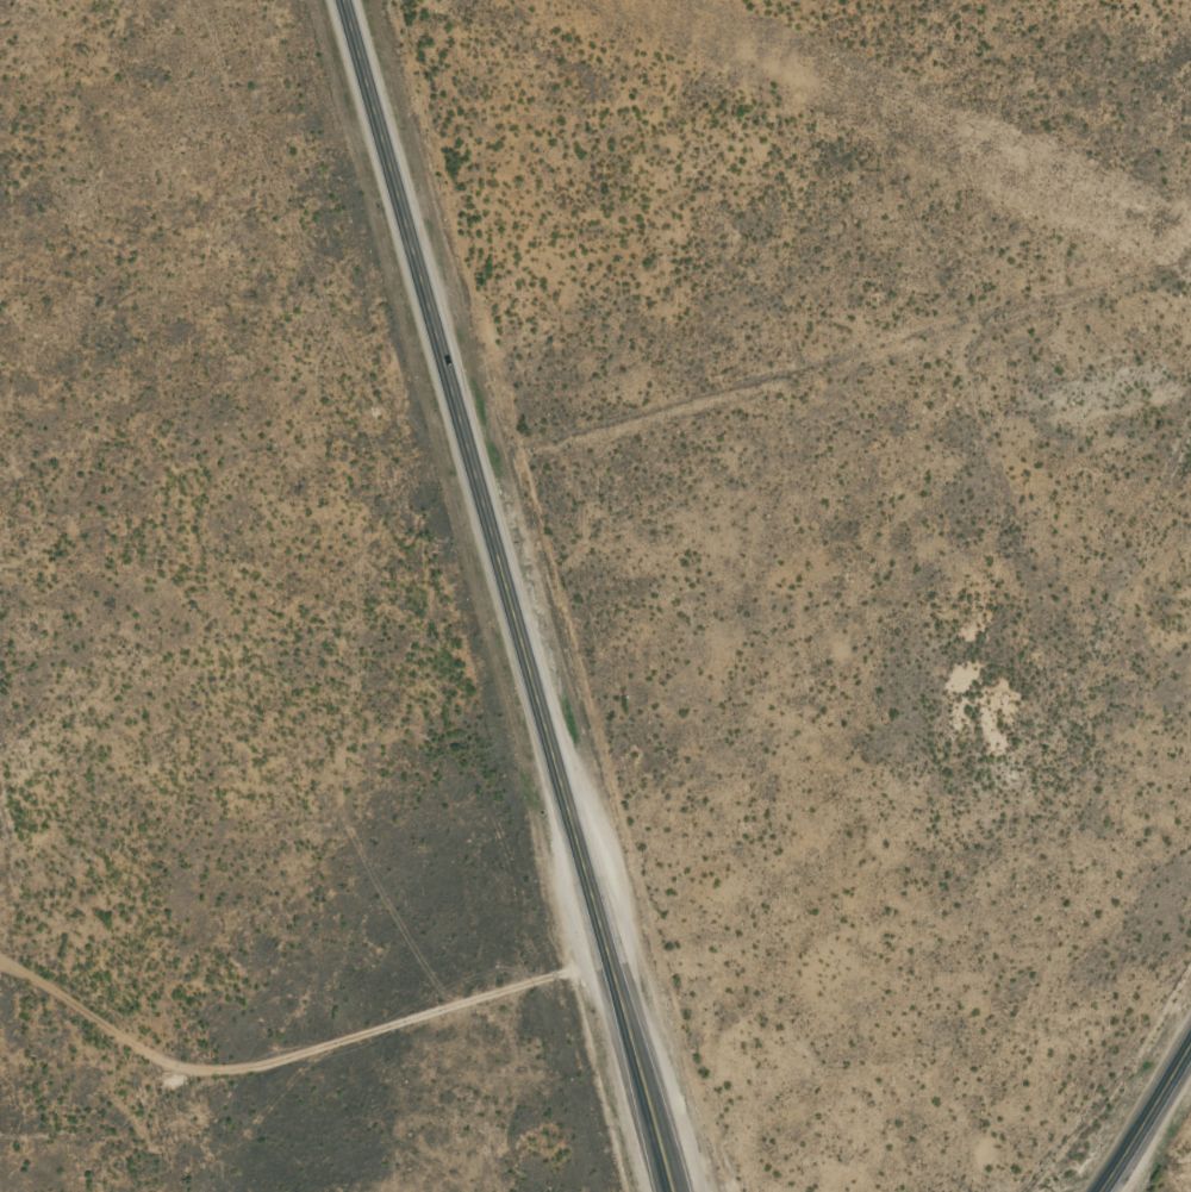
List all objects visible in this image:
road: (511, 595)
road: (313, 1094)
road: (1149, 1123)

